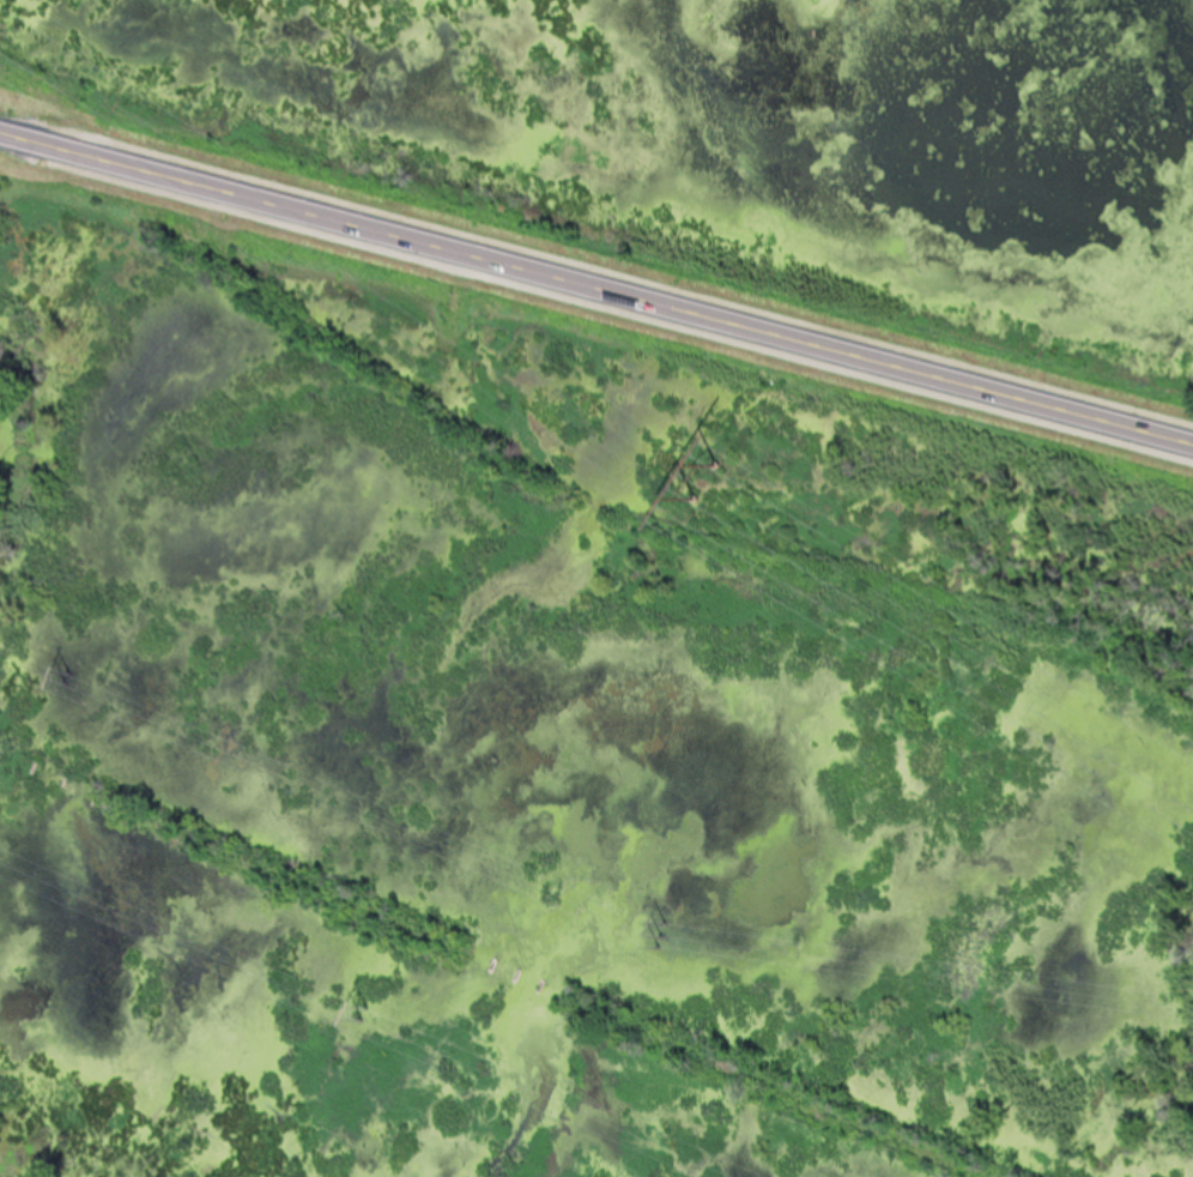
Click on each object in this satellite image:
road: (596, 285)
power tower: (705, 475)
power tower: (63, 676)
power tower: (656, 926)
power tower: (355, 997)

